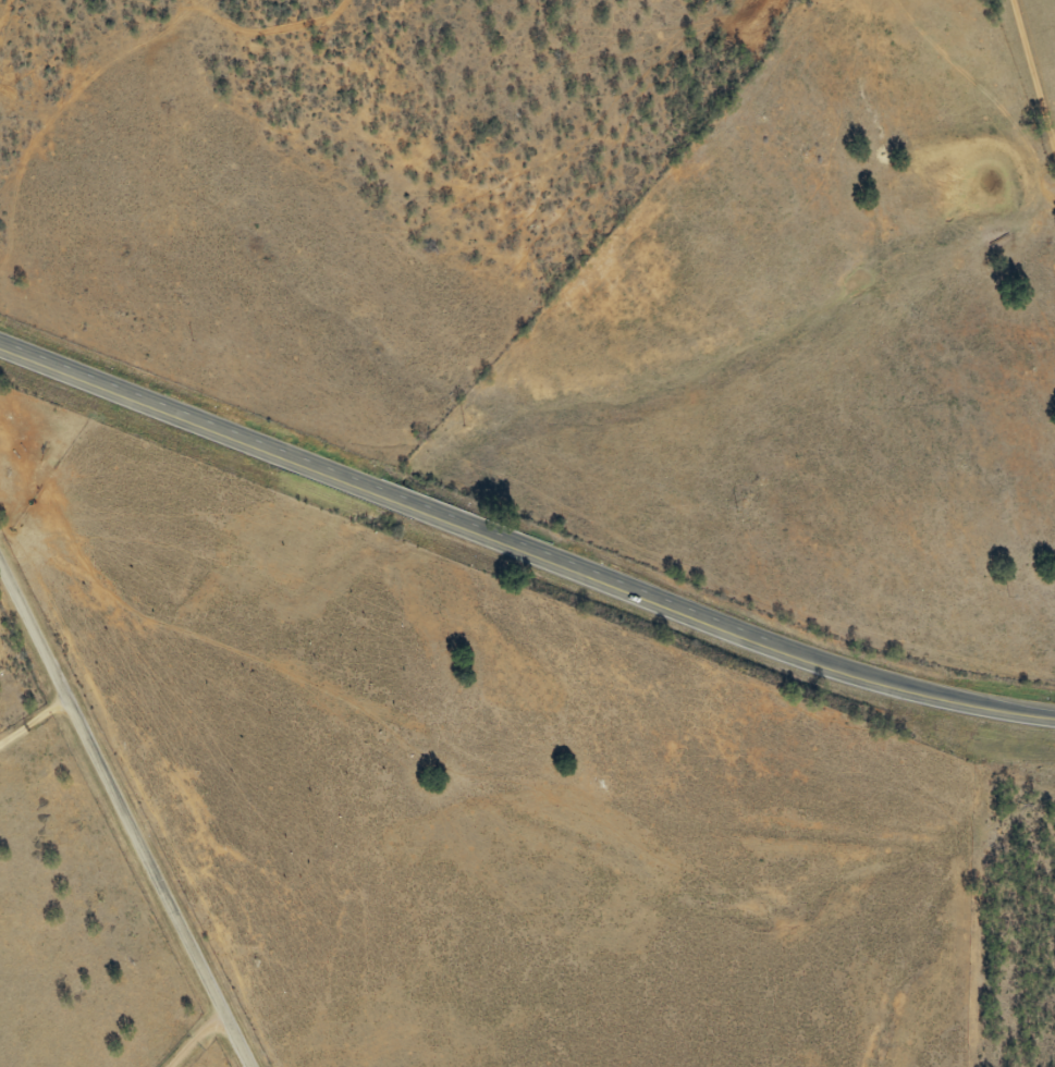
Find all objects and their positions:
road: (1035, 84)
road: (1052, 177)
road: (522, 554)
road: (132, 811)

